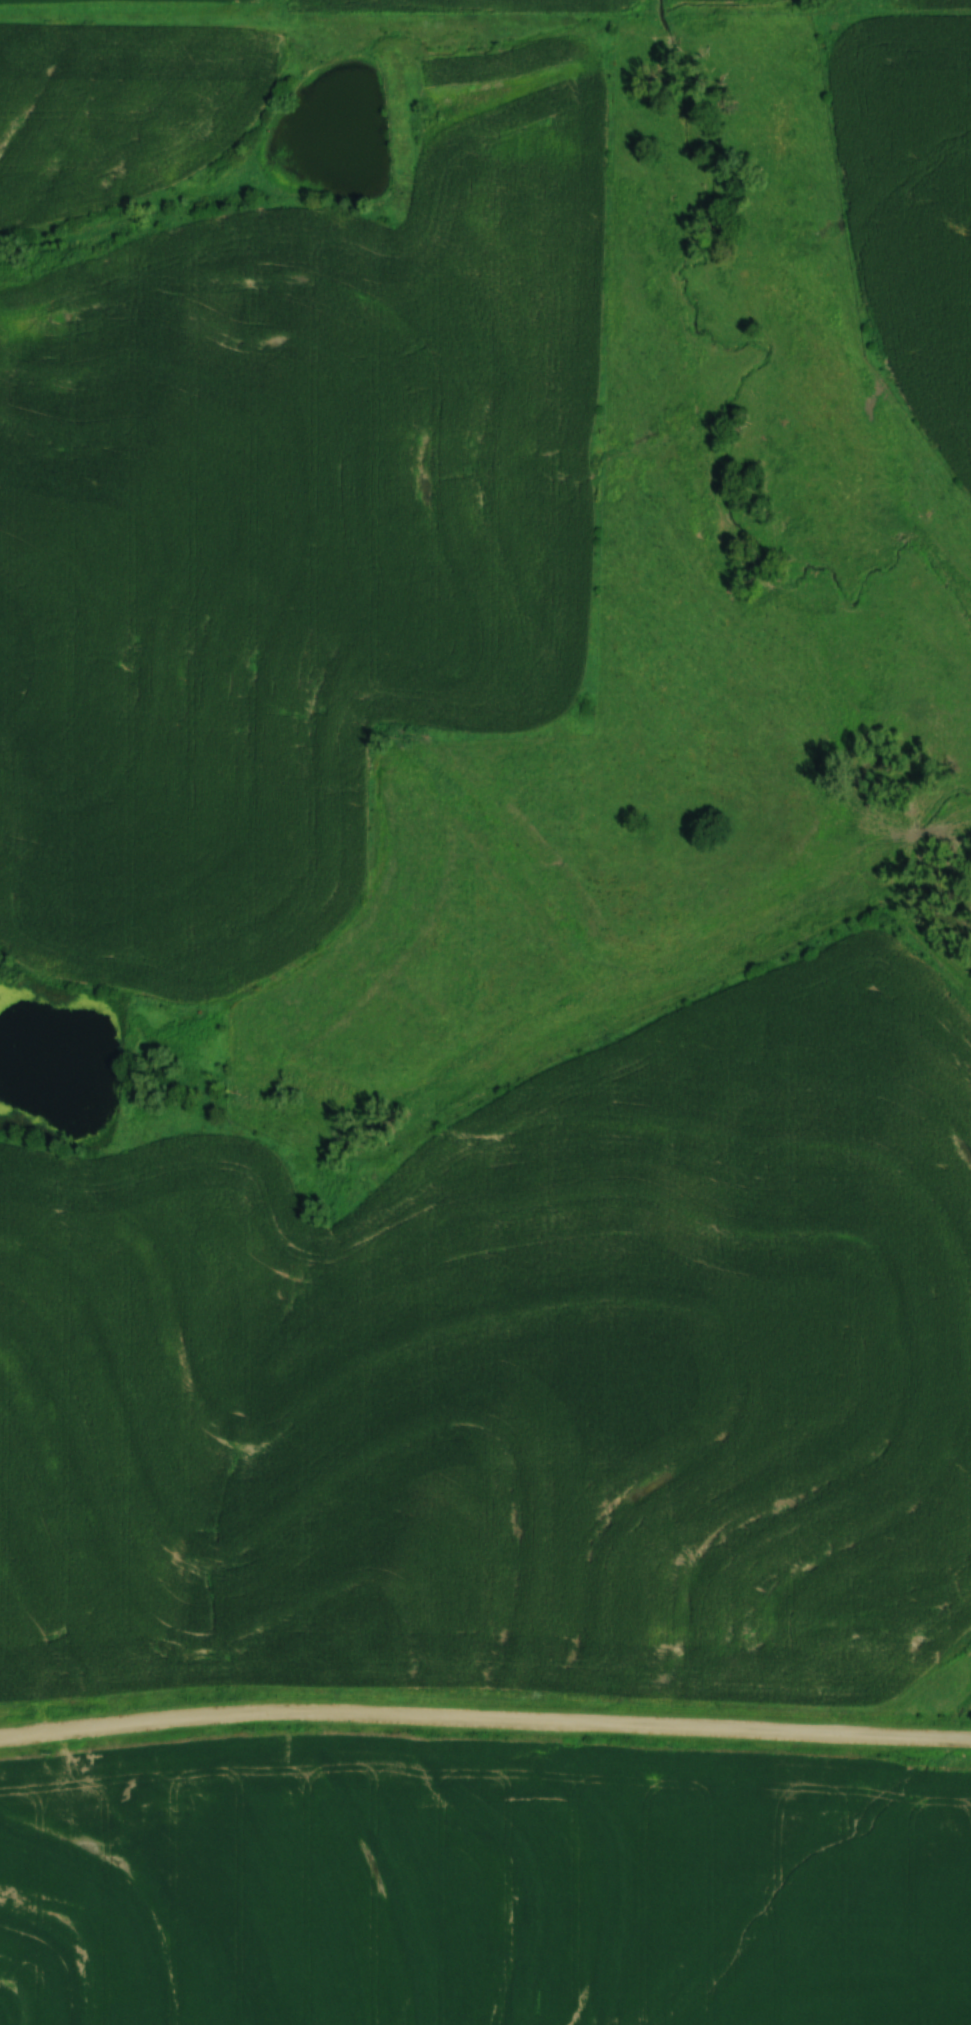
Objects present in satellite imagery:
road: (464, 1717)

